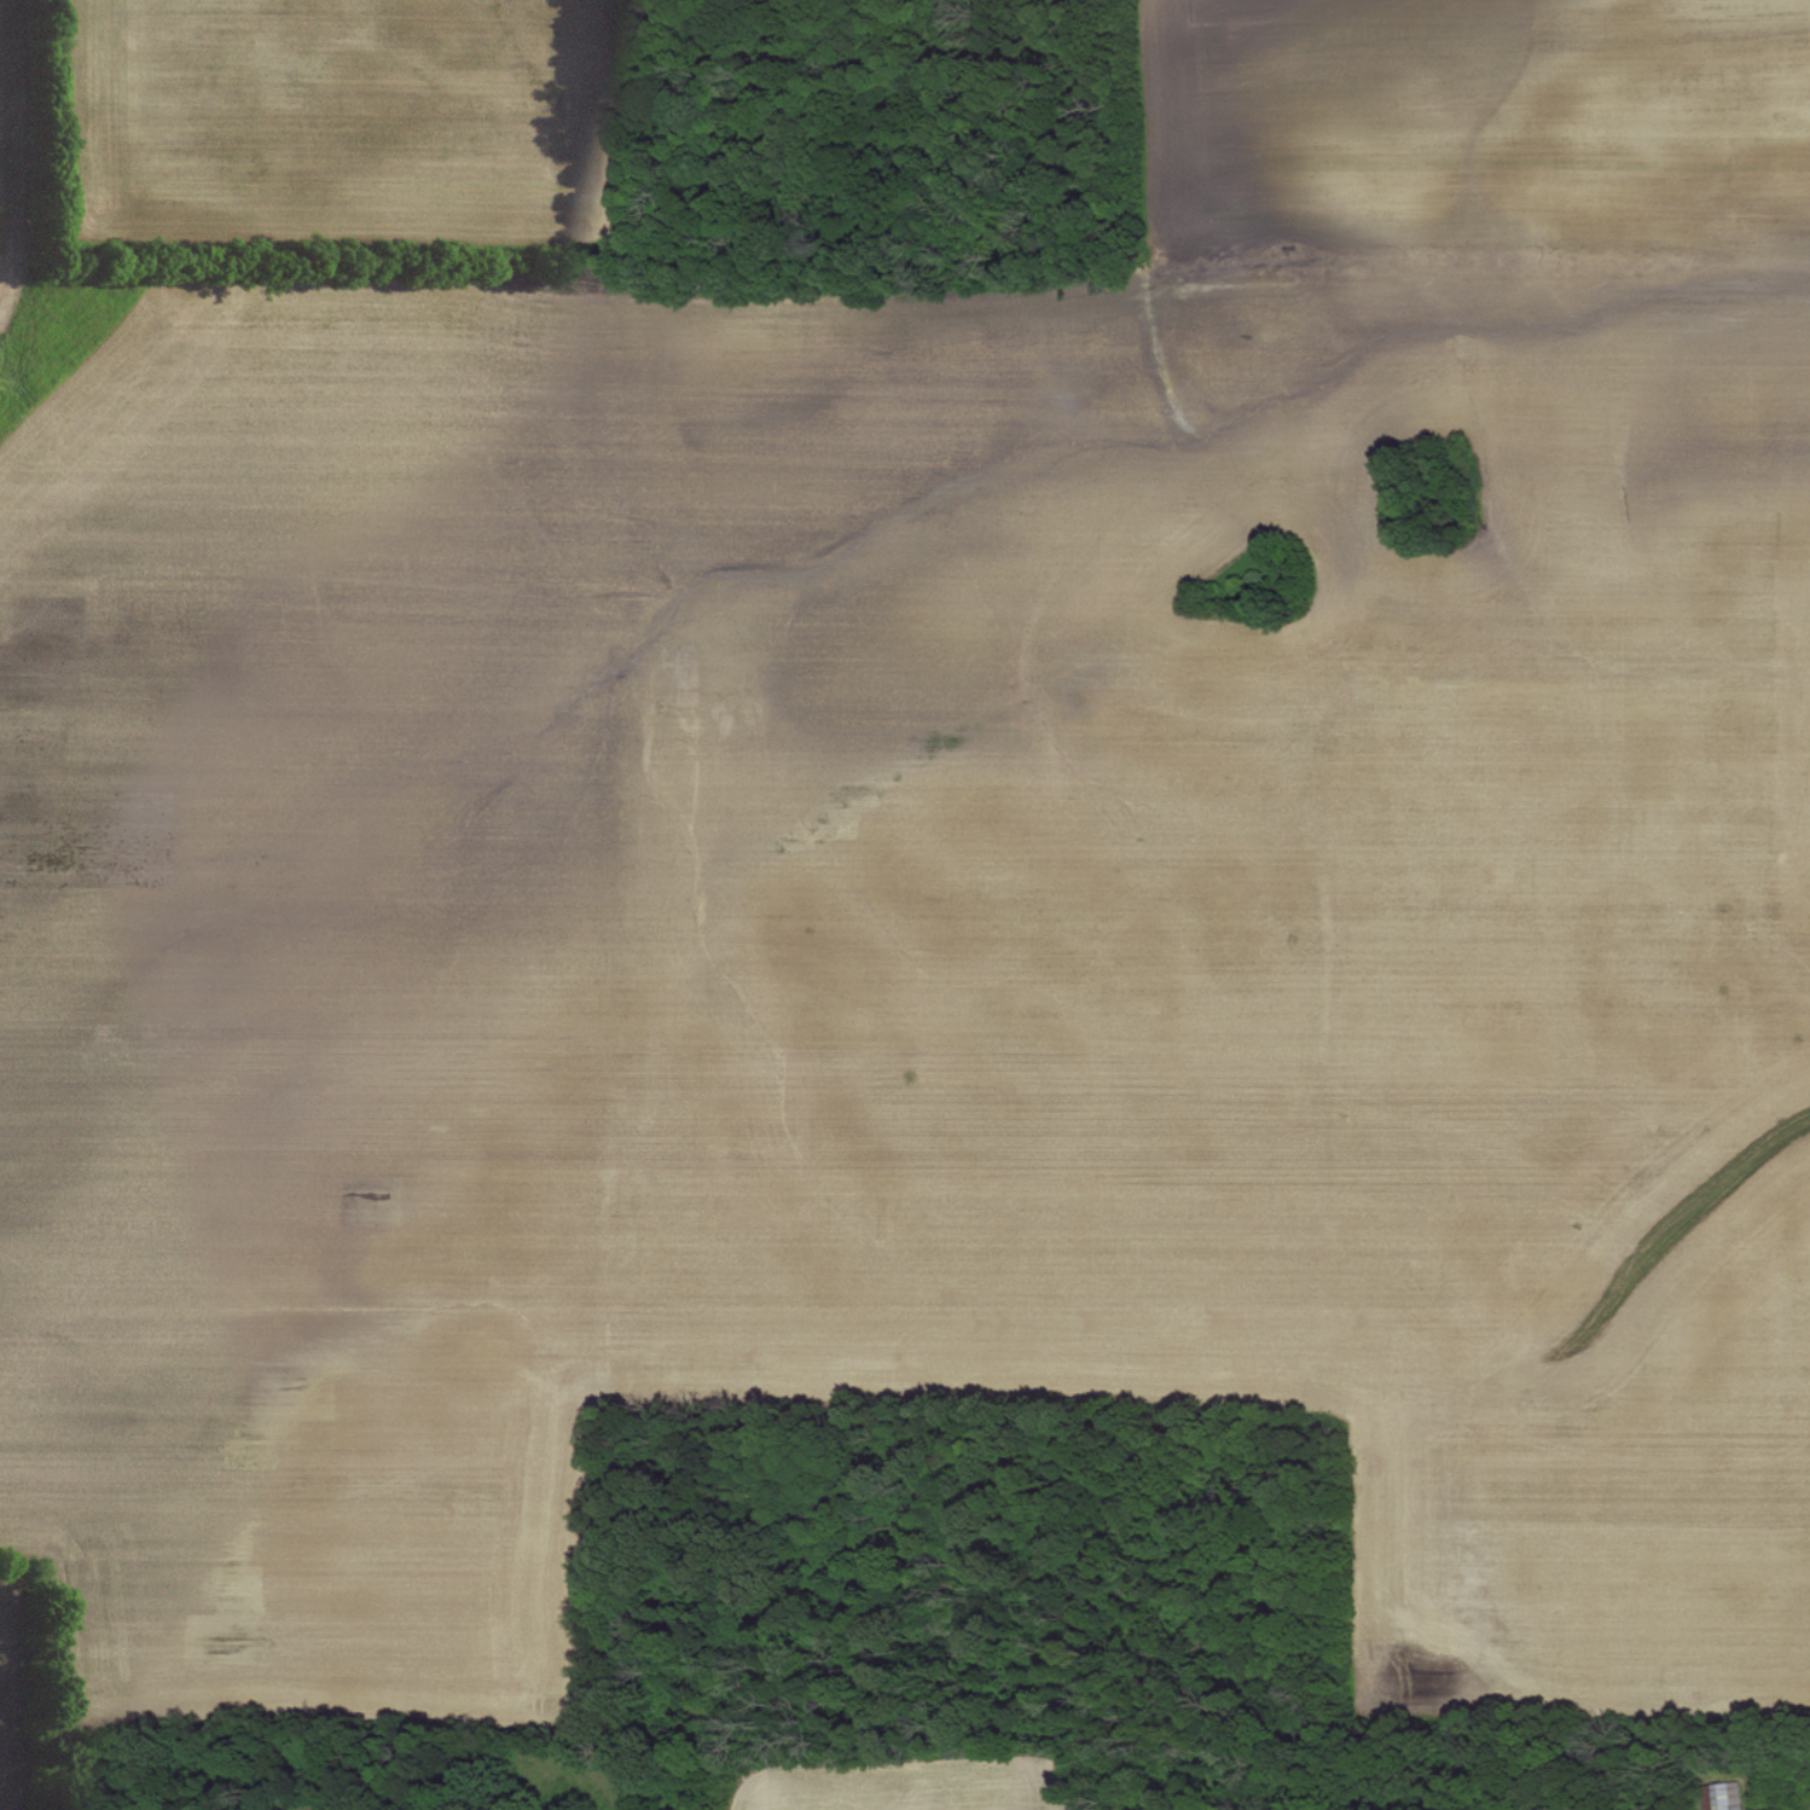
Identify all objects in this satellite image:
building: (1723, 1797)

